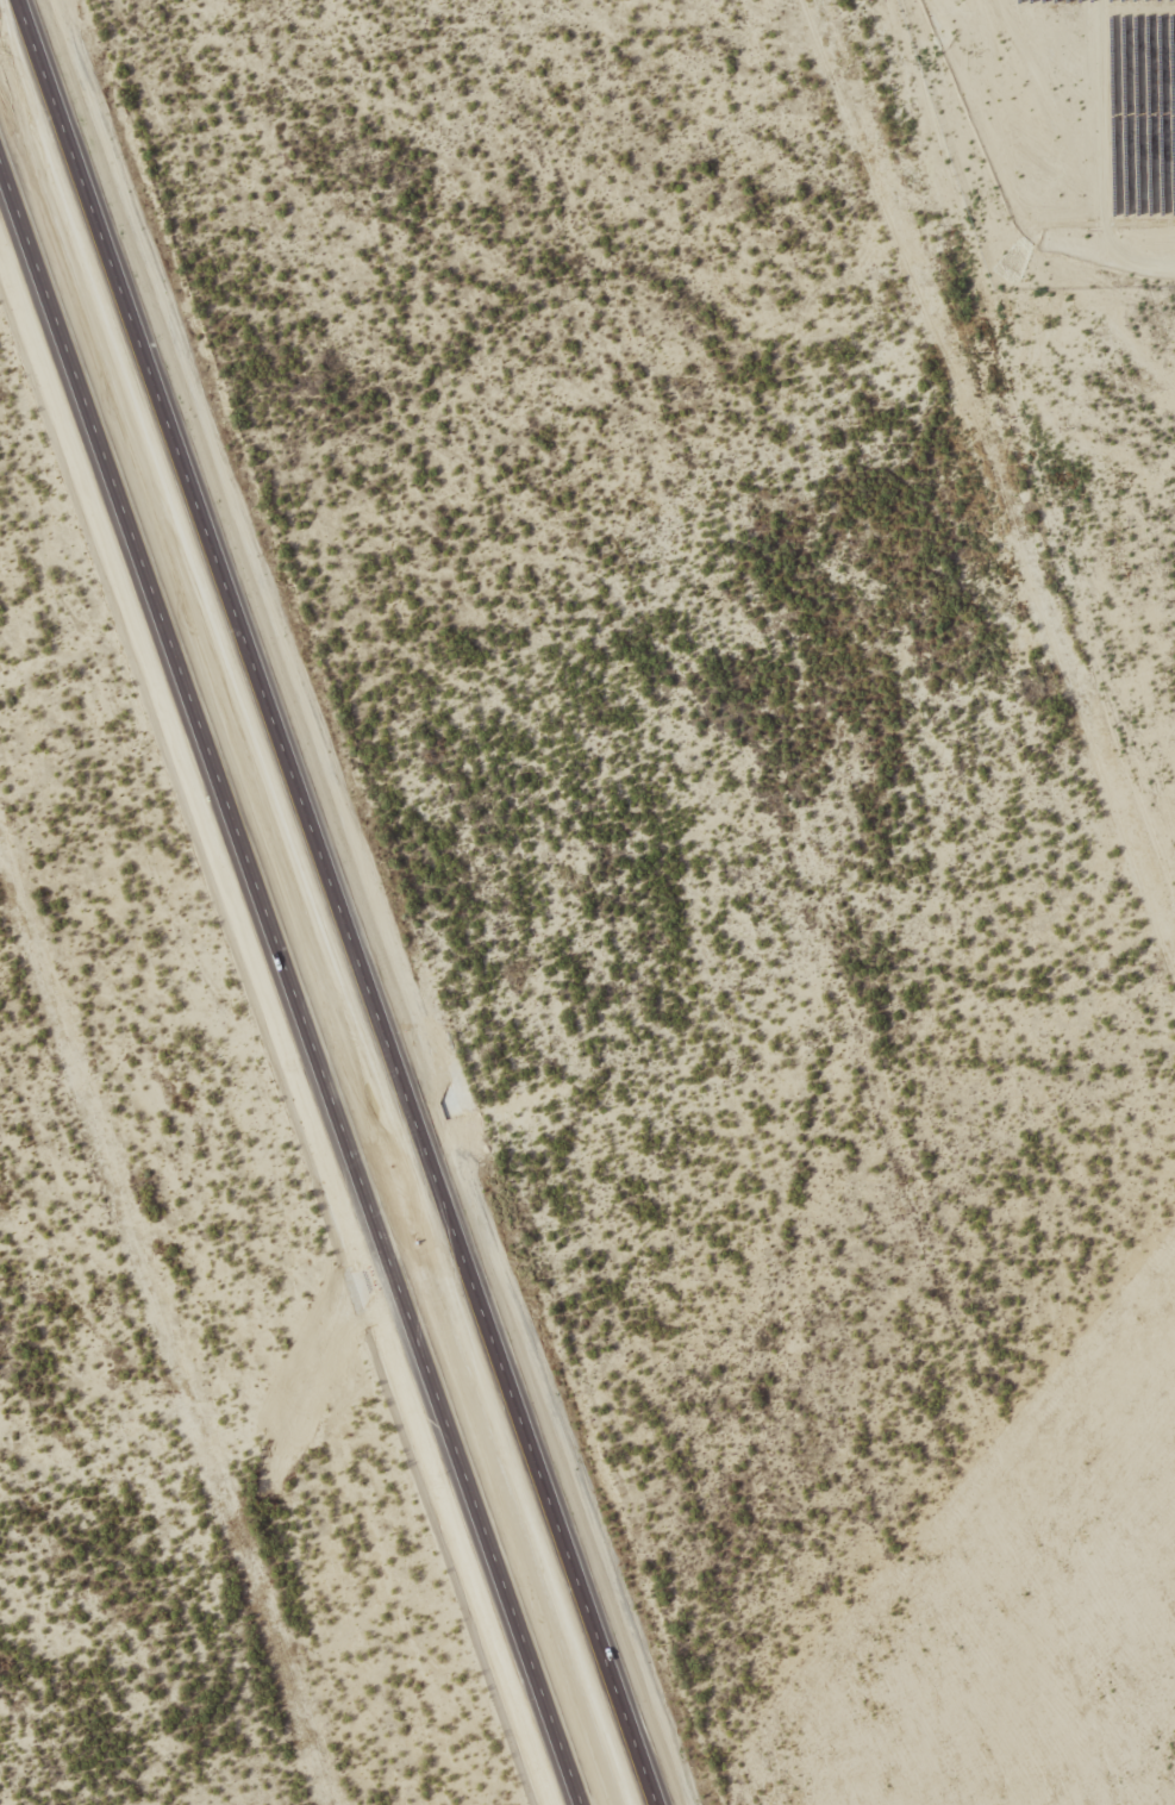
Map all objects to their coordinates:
road: (339, 901)
road: (148, 944)

